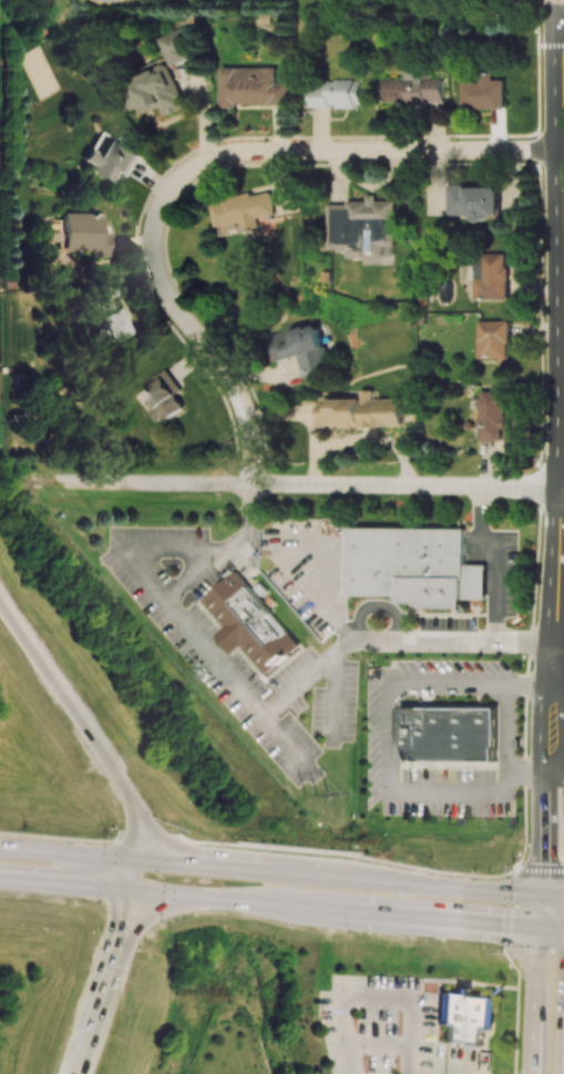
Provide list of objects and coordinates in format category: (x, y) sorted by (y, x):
road: (553, 6)
road: (560, 6)
road: (560, 11)
road: (550, 43)
building: (177, 44)
power tower: (0, 68)
building: (252, 86)
building: (413, 88)
building: (157, 90)
building: (335, 92)
building: (484, 92)
building: (110, 161)
road: (197, 167)
building: (472, 201)
building: (243, 211)
building: (361, 228)
road: (558, 249)
building: (490, 275)
building: (106, 310)
building: (493, 340)
building: (300, 347)
building: (163, 396)
building: (360, 411)
building: (492, 415)
road: (540, 436)
road: (318, 488)
road: (563, 502)
road: (147, 544)
road: (495, 556)
building: (409, 564)
building: (250, 622)
parking lot: (452, 677)
road: (332, 695)
road: (66, 703)
road: (539, 707)
road: (259, 716)
road: (507, 727)
building: (449, 734)
road: (288, 747)
road: (381, 766)
parking lot: (428, 777)
power tower: (317, 794)
road: (59, 839)
road: (161, 840)
road: (157, 845)
road: (132, 848)
road: (100, 857)
traffic signals: (132, 860)
road: (356, 863)
road: (540, 871)
road: (369, 881)
traffic signals: (126, 892)
traffic signals: (539, 896)
road: (551, 897)
road: (267, 904)
traffic signals: (163, 908)
road: (512, 909)
traffic signals: (536, 928)
road: (550, 929)
road: (120, 932)
road: (507, 950)
road: (537, 950)
road: (114, 963)
road: (376, 1001)
road: (533, 1001)
road: (516, 1010)
building: (464, 1019)
parking lot: (388, 1029)
road: (380, 1046)
road: (454, 1063)

